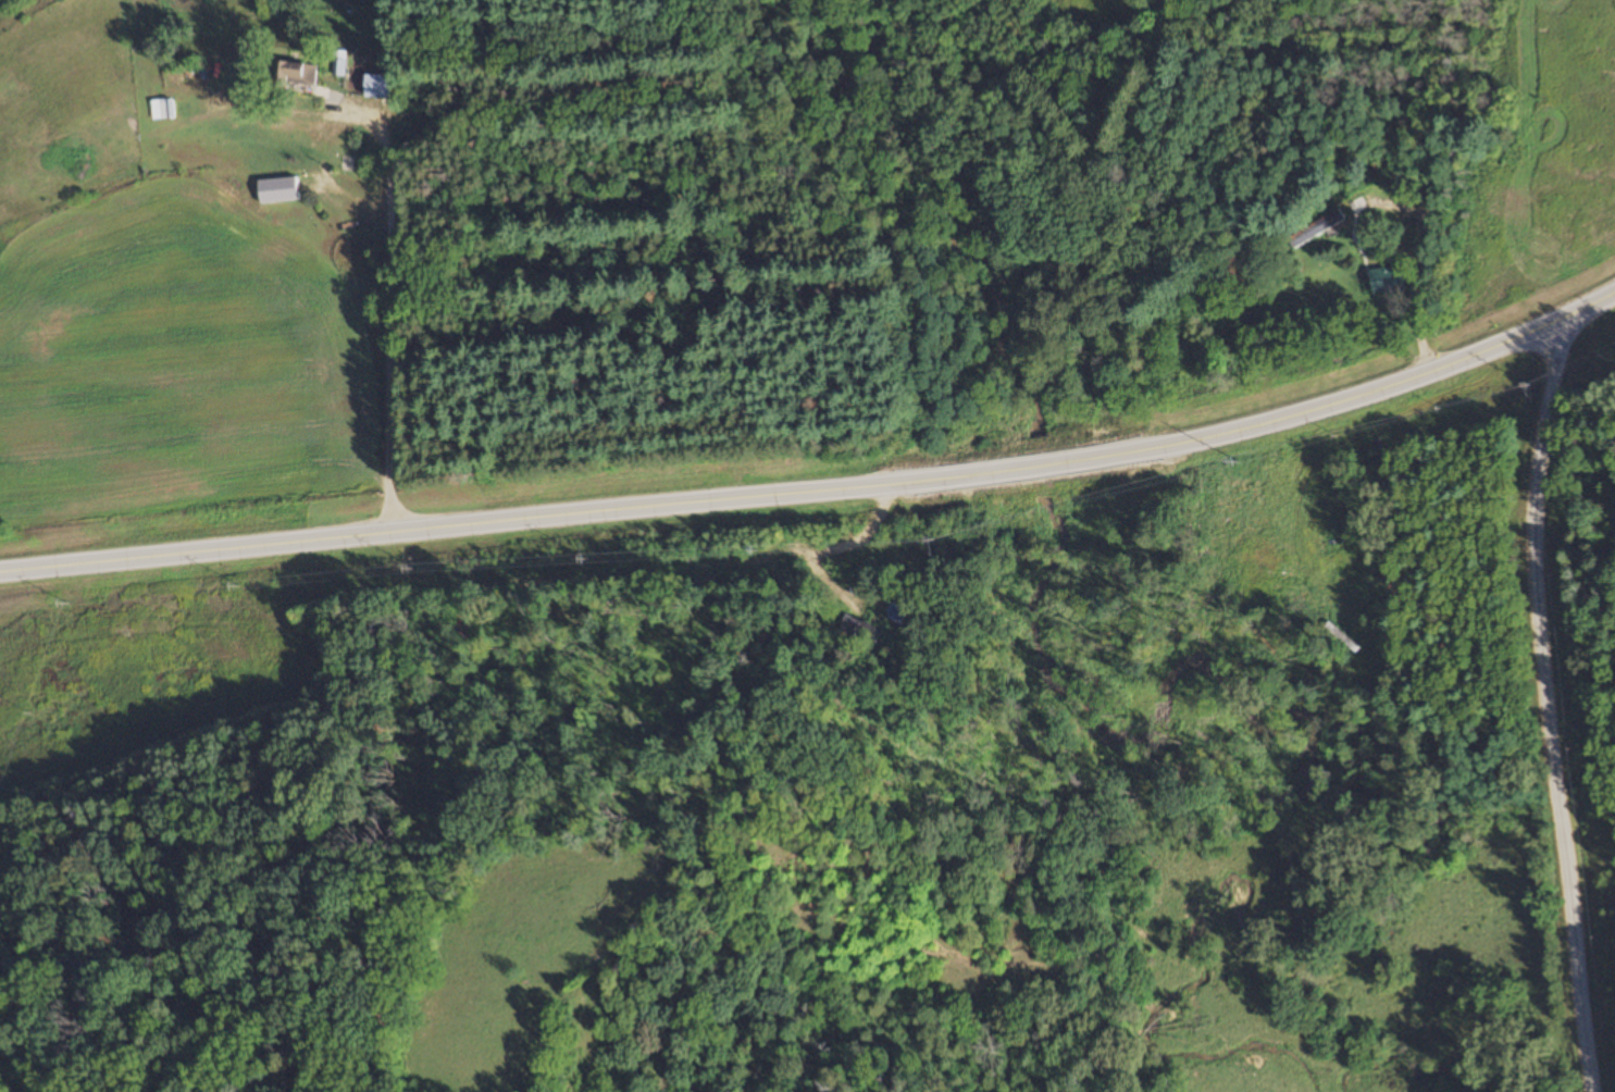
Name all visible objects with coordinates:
building: (286, 72)
building: (184, 75)
building: (376, 85)
building: (161, 109)
building: (1317, 227)
building: (1384, 281)
road: (381, 315)
road: (820, 491)
road: (1553, 708)

